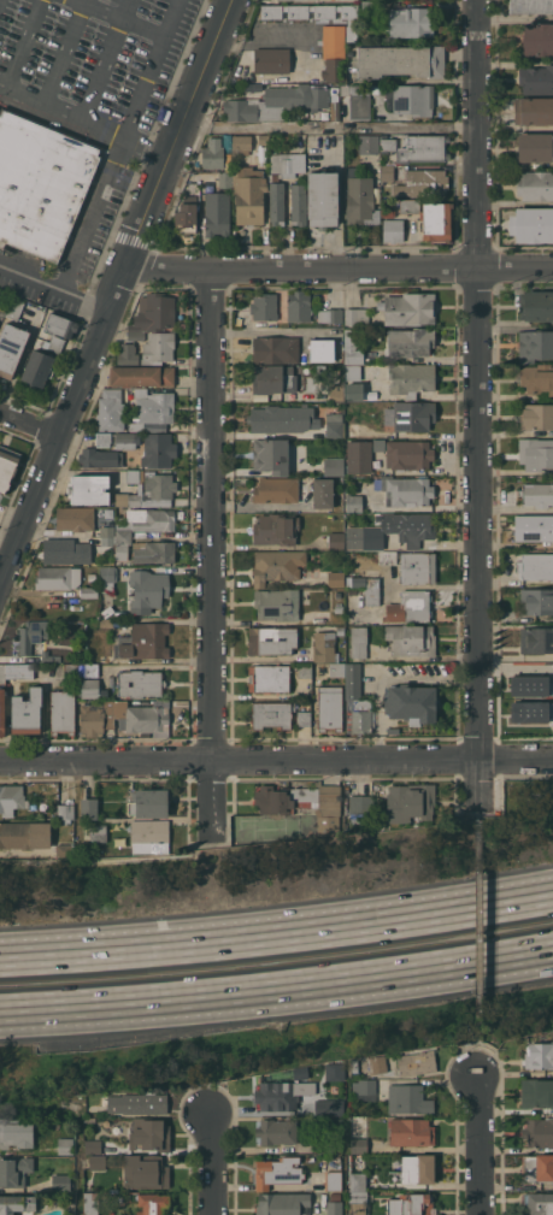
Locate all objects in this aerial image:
building: (370, 6)
building: (530, 6)
building: (316, 13)
road: (123, 14)
road: (516, 18)
building: (411, 20)
building: (537, 39)
road: (25, 42)
building: (334, 53)
road: (107, 58)
building: (271, 60)
building: (401, 60)
parking lot: (93, 61)
building: (536, 79)
road: (20, 90)
building: (358, 99)
building: (413, 99)
building: (276, 102)
building: (334, 106)
building: (534, 111)
road: (100, 123)
road: (331, 126)
building: (263, 138)
road: (149, 143)
building: (369, 143)
building: (241, 144)
building: (535, 147)
building: (418, 148)
building: (212, 154)
building: (228, 158)
building: (287, 164)
building: (387, 172)
building: (224, 178)
building: (41, 182)
building: (423, 183)
building: (535, 185)
building: (249, 194)
building: (322, 197)
building: (359, 199)
building: (277, 200)
building: (299, 205)
building: (408, 206)
road: (96, 211)
building: (388, 212)
building: (217, 214)
building: (186, 216)
building: (435, 220)
building: (531, 224)
building: (393, 230)
road: (340, 269)
road: (55, 284)
road: (117, 290)
building: (4, 300)
building: (264, 306)
building: (299, 306)
building: (536, 306)
building: (14, 308)
building: (407, 308)
building: (152, 314)
building: (330, 314)
building: (357, 315)
building: (60, 325)
building: (410, 342)
building: (55, 344)
building: (535, 346)
building: (11, 348)
building: (158, 348)
building: (352, 348)
building: (276, 349)
building: (322, 349)
building: (128, 354)
building: (37, 368)
building: (141, 376)
building: (536, 378)
building: (273, 379)
building: (411, 379)
building: (353, 384)
road: (480, 402)
building: (387, 403)
building: (152, 407)
building: (111, 411)
building: (413, 415)
building: (535, 415)
building: (280, 419)
road: (28, 423)
building: (334, 425)
building: (352, 429)
building: (102, 438)
building: (127, 440)
building: (378, 444)
building: (158, 449)
building: (535, 453)
building: (408, 454)
building: (271, 455)
building: (359, 456)
building: (100, 458)
building: (7, 466)
building: (334, 466)
building: (131, 474)
building: (88, 489)
building: (276, 489)
building: (149, 491)
building: (407, 491)
building: (323, 493)
building: (536, 495)
building: (354, 503)
road: (517, 509)
building: (118, 511)
building: (75, 518)
building: (141, 526)
building: (408, 526)
building: (534, 527)
building: (275, 529)
building: (106, 536)
building: (355, 537)
building: (336, 541)
road: (212, 549)
building: (60, 550)
building: (153, 552)
building: (388, 558)
building: (277, 565)
building: (536, 566)
building: (418, 567)
building: (92, 576)
building: (57, 577)
building: (107, 578)
building: (335, 579)
building: (370, 586)
building: (148, 590)
building: (89, 591)
building: (536, 601)
building: (277, 603)
building: (408, 607)
building: (339, 609)
building: (106, 623)
building: (340, 630)
building: (31, 635)
building: (411, 639)
building: (536, 639)
building: (272, 641)
building: (358, 641)
building: (143, 642)
building: (324, 648)
building: (49, 656)
building: (336, 668)
building: (90, 670)
building: (302, 670)
building: (19, 671)
building: (70, 671)
building: (2, 673)
building: (269, 677)
building: (352, 680)
building: (140, 684)
building: (531, 685)
building: (92, 689)
building: (412, 703)
building: (330, 708)
building: (531, 710)
building: (2, 712)
building: (27, 712)
building: (63, 712)
building: (271, 714)
building: (360, 715)
building: (147, 718)
building: (304, 718)
road: (276, 761)
building: (11, 798)
building: (410, 802)
building: (148, 803)
building: (302, 803)
building: (90, 808)
building: (360, 808)
building: (65, 812)
road: (477, 813)
building: (98, 833)
building: (25, 834)
building: (149, 836)
building: (65, 850)
road: (477, 931)
road: (277, 936)
road: (276, 990)
building: (539, 1055)
road: (476, 1056)
building: (416, 1062)
building: (373, 1064)
building: (354, 1066)
building: (331, 1071)
building: (364, 1086)
building: (537, 1095)
building: (280, 1096)
building: (408, 1098)
building: (137, 1103)
building: (47, 1105)
building: (326, 1107)
building: (95, 1114)
building: (276, 1131)
building: (17, 1132)
building: (411, 1132)
building: (537, 1132)
building: (149, 1134)
road: (480, 1144)
building: (65, 1145)
building: (359, 1145)
building: (93, 1146)
building: (325, 1146)
building: (98, 1162)
road: (212, 1163)
building: (537, 1167)
building: (416, 1169)
building: (14, 1170)
building: (145, 1172)
building: (277, 1172)
building: (333, 1180)
building: (60, 1182)
building: (358, 1182)
building: (335, 1196)
building: (357, 1202)
building: (16, 1203)
building: (90, 1203)
building: (149, 1203)
building: (539, 1203)
building: (283, 1204)
building: (411, 1204)
building: (334, 1208)

